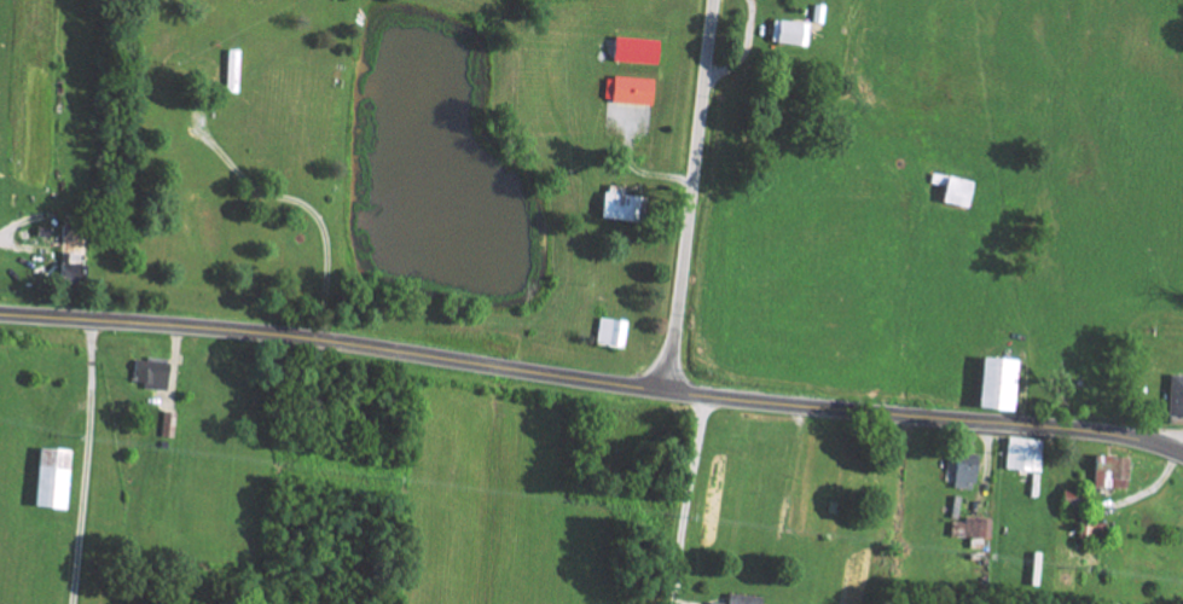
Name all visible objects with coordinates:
building: (640, 50)
building: (632, 89)
building: (964, 191)
road: (692, 196)
building: (624, 203)
road: (289, 204)
building: (75, 265)
building: (614, 332)
building: (155, 373)
road: (592, 379)
building: (1007, 384)
building: (1173, 395)
road: (1167, 442)
building: (1028, 454)
road: (79, 461)
building: (970, 471)
building: (57, 478)
building: (1074, 498)
road: (685, 499)
building: (976, 528)
building: (746, 599)

